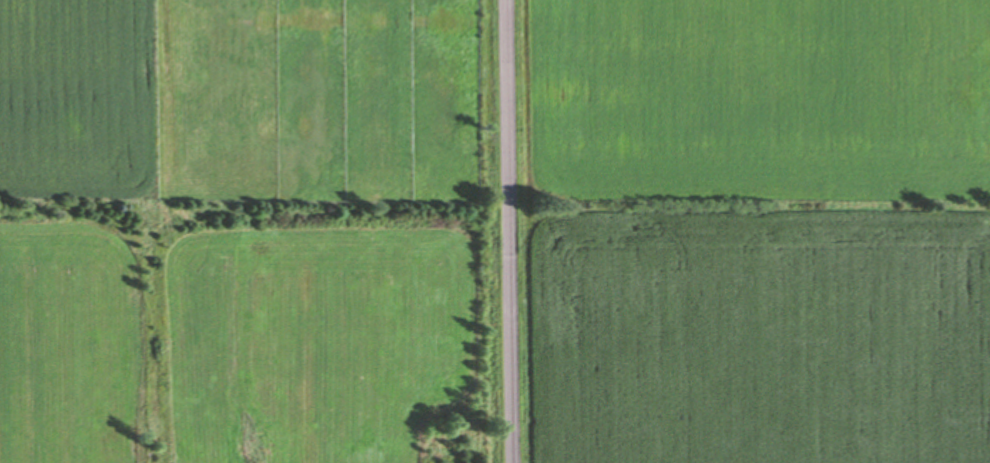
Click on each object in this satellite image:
road: (510, 231)

